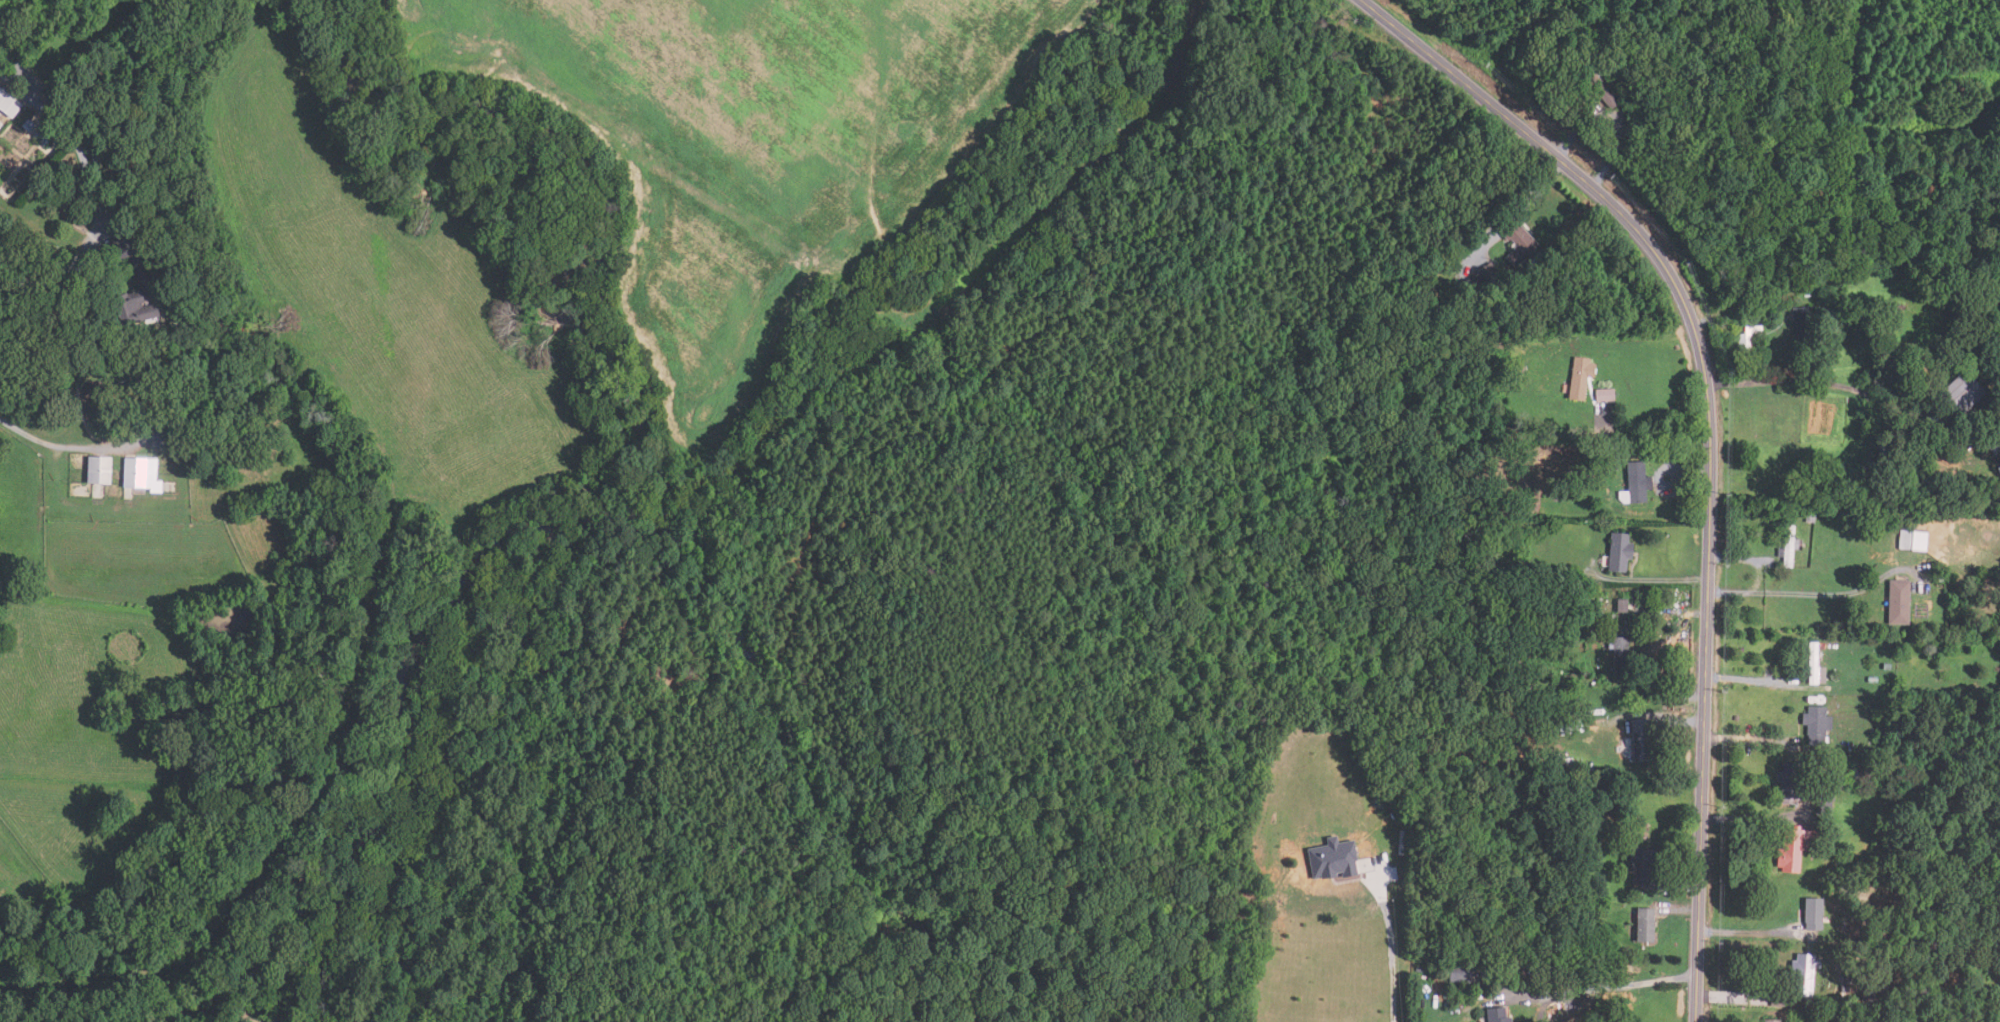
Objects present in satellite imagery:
building: (1599, 85)
building: (7, 104)
road: (44, 113)
road: (1611, 119)
building: (26, 126)
building: (40, 137)
building: (1515, 240)
road: (91, 252)
building: (1489, 275)
building: (142, 284)
building: (1474, 292)
river: (1931, 314)
building: (1804, 325)
building: (1750, 348)
building: (179, 359)
building: (155, 365)
building: (1991, 372)
building: (1579, 377)
road: (1802, 381)
building: (1962, 394)
building: (1605, 395)
road: (175, 424)
building: (1943, 433)
road: (1710, 437)
road: (1646, 439)
building: (1995, 447)
building: (1885, 449)
building: (257, 454)
building: (1615, 467)
building: (97, 471)
building: (139, 475)
road: (1688, 477)
building: (1637, 482)
building: (1810, 517)
building: (1913, 541)
building: (1789, 547)
building: (1618, 553)
building: (1479, 565)
road: (1759, 578)
road: (1656, 580)
road: (1843, 593)
building: (1899, 603)
building: (1621, 606)
building: (1586, 611)
building: (1821, 647)
building: (1620, 657)
building: (1814, 667)
building: (1886, 667)
building: (1872, 680)
road: (1758, 683)
road: (1683, 722)
building: (1816, 725)
building: (1569, 728)
building: (1872, 733)
road: (1751, 740)
building: (1640, 741)
building: (1566, 765)
building: (1578, 767)
building: (1864, 771)
building: (1842, 781)
building: (1792, 784)
building: (1824, 804)
road: (1757, 819)
building: (1794, 849)
building: (1334, 860)
building: (1645, 864)
road: (1680, 890)
road: (1682, 911)
building: (1812, 915)
building: (1645, 926)
road: (1746, 933)
road: (1395, 947)
building: (1615, 955)
building: (1478, 960)
building: (1244, 969)
building: (1804, 974)
building: (1458, 975)
building: (1942, 978)
building: (1845, 981)
building: (1819, 986)
road: (1608, 987)
road: (1739, 997)
building: (1867, 998)
building: (1497, 1015)
road: (1265, 1016)
building: (1772, 1021)

